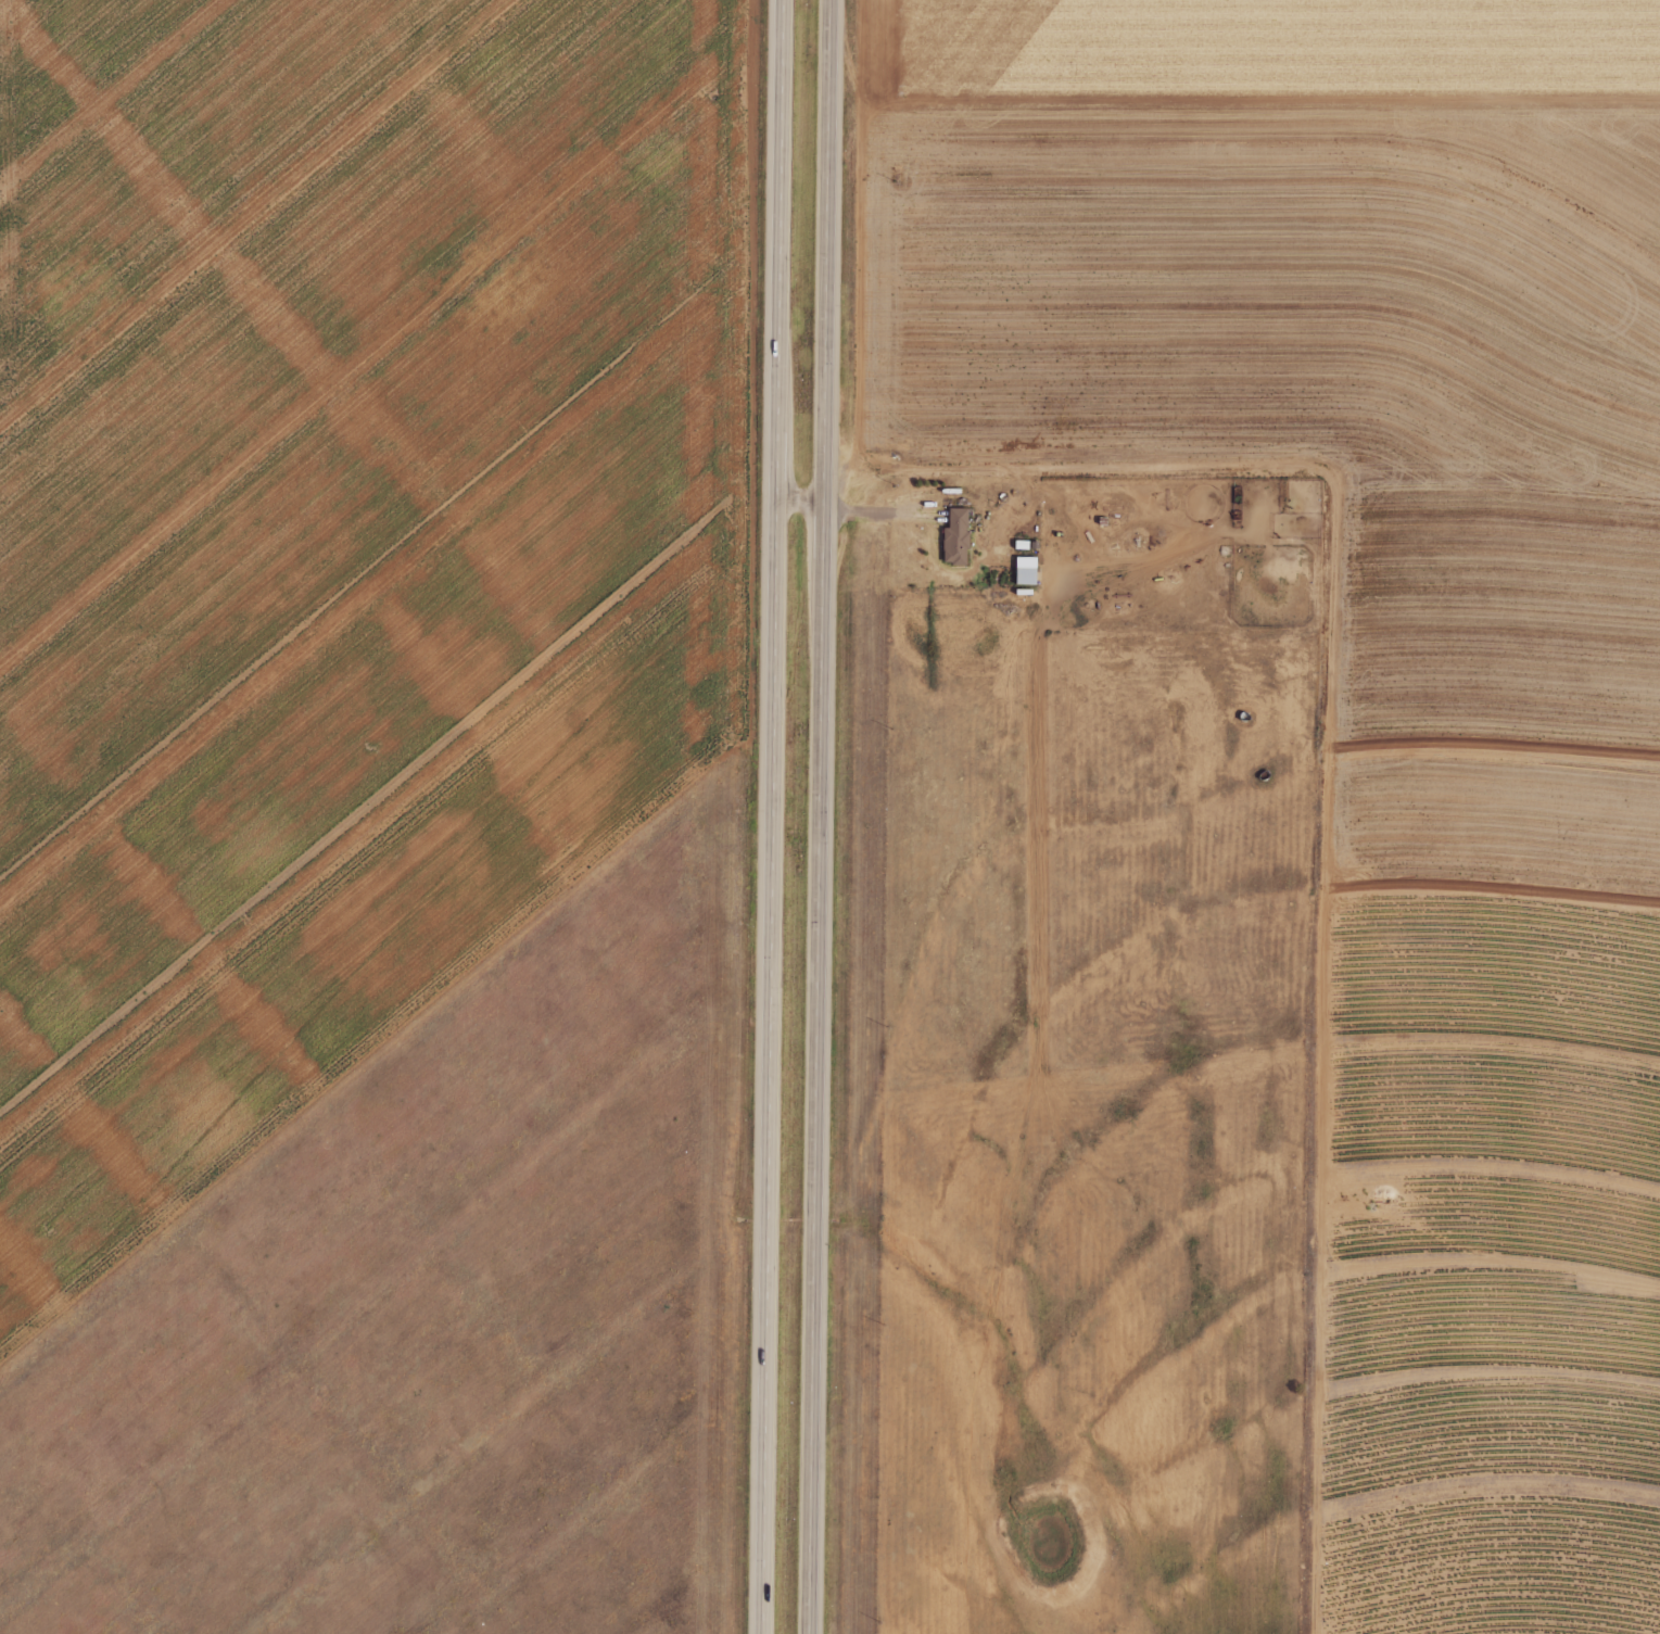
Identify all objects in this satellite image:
road: (885, 516)
road: (772, 816)
road: (827, 816)

